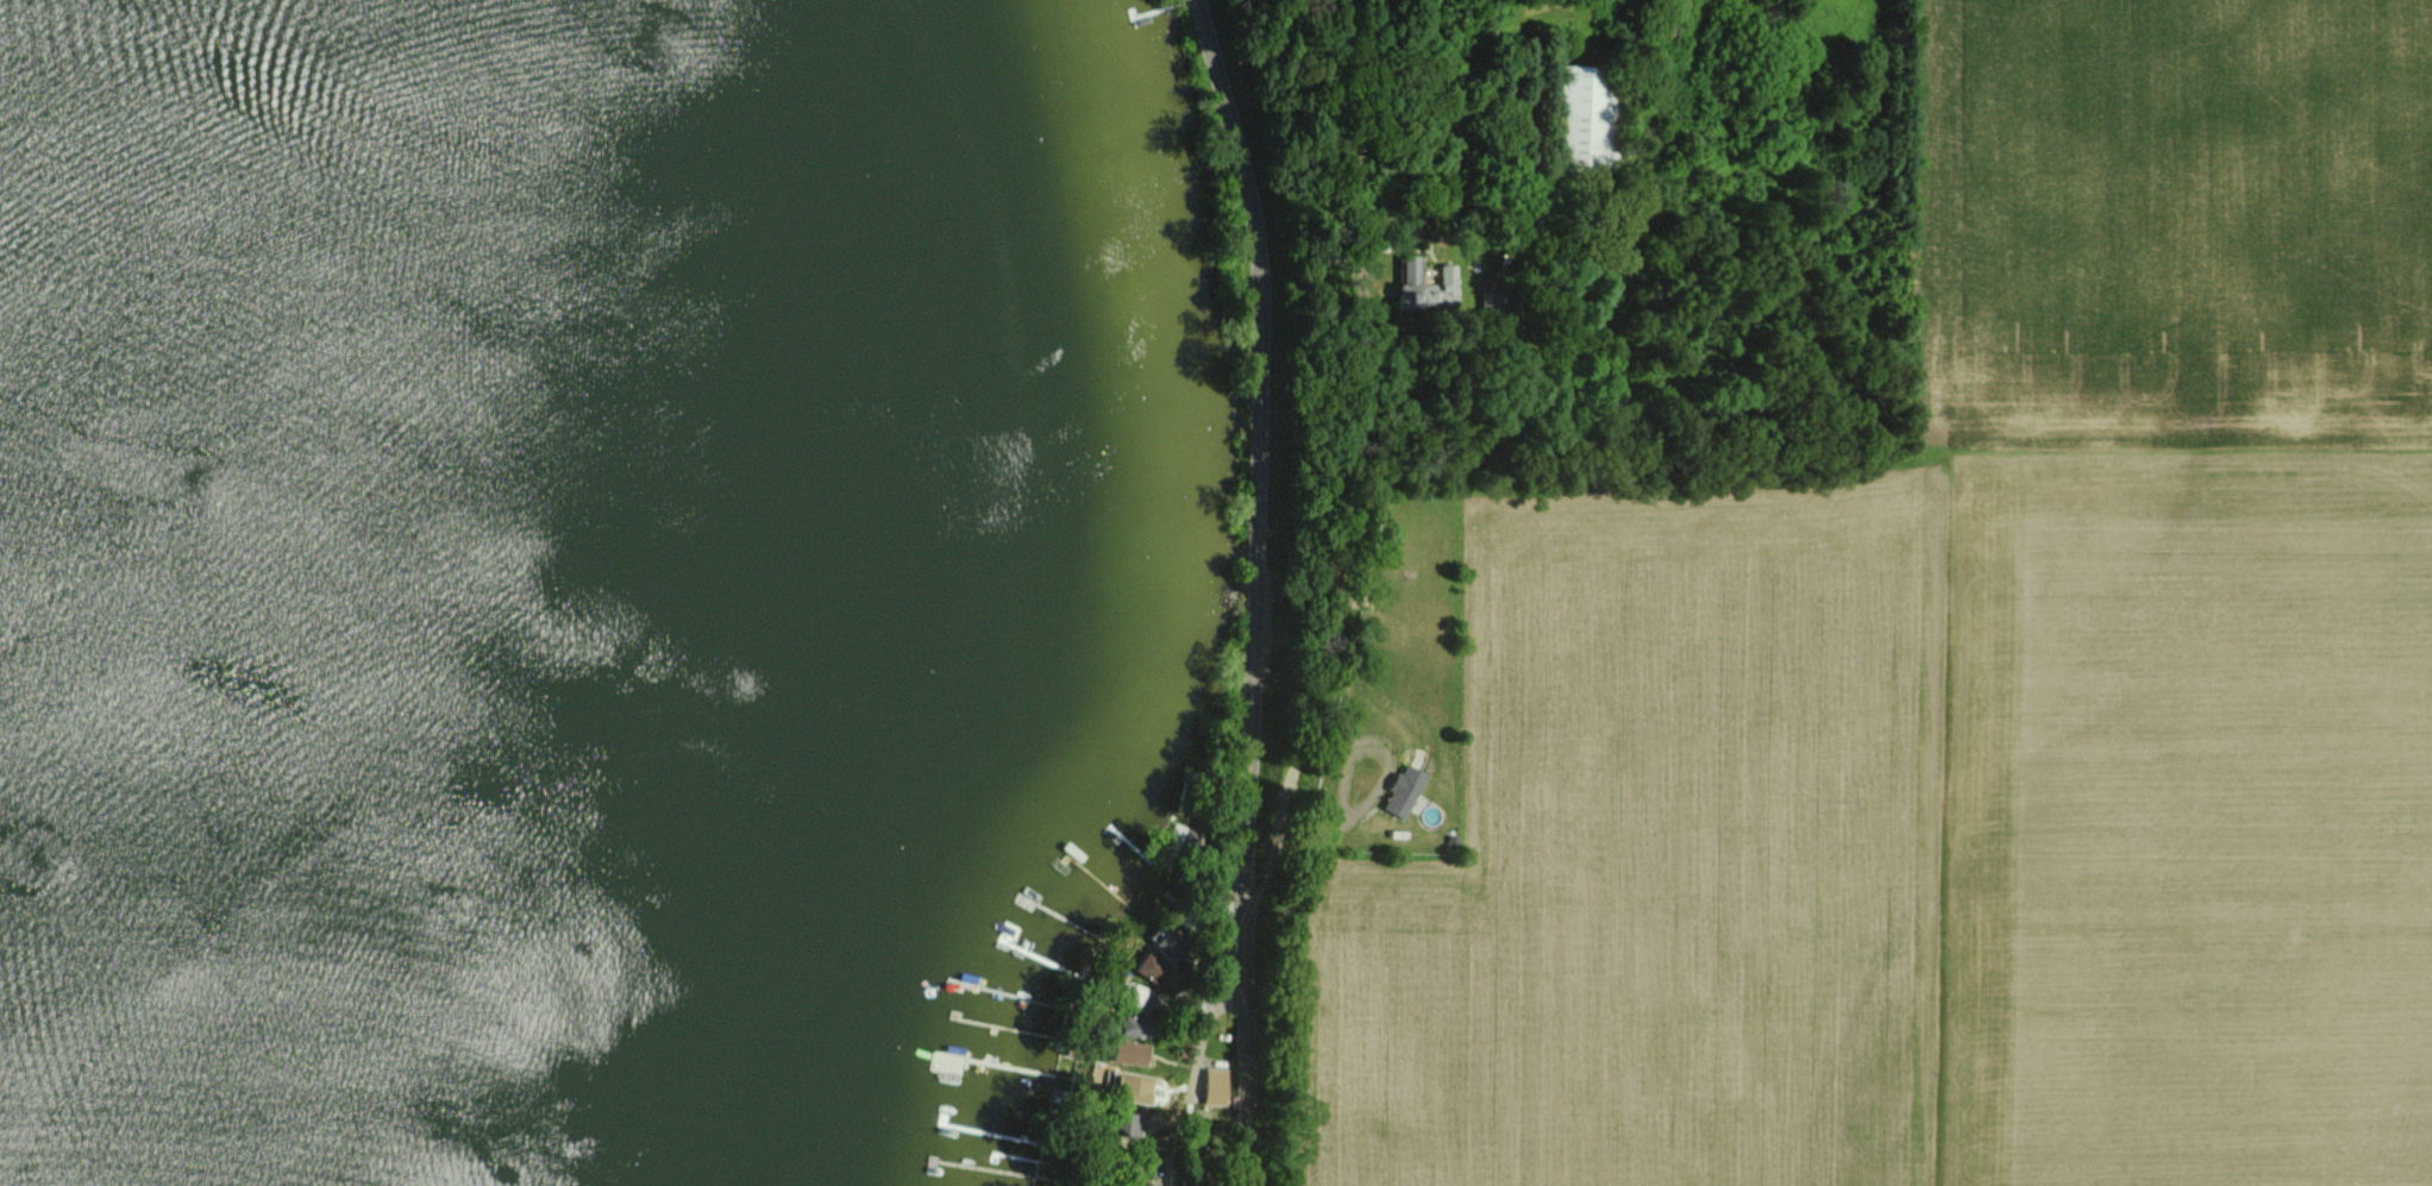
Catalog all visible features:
building: (1588, 118)
building: (1534, 219)
park: (1537, 258)
building: (1424, 285)
building: (1493, 307)
road: (1373, 332)
road: (1259, 589)
road: (1289, 787)
building: (1404, 791)
building: (1166, 942)
building: (1133, 1028)
building: (1129, 1053)
road: (1191, 1079)
building: (1216, 1086)
building: (1130, 1087)
building: (1129, 1127)

